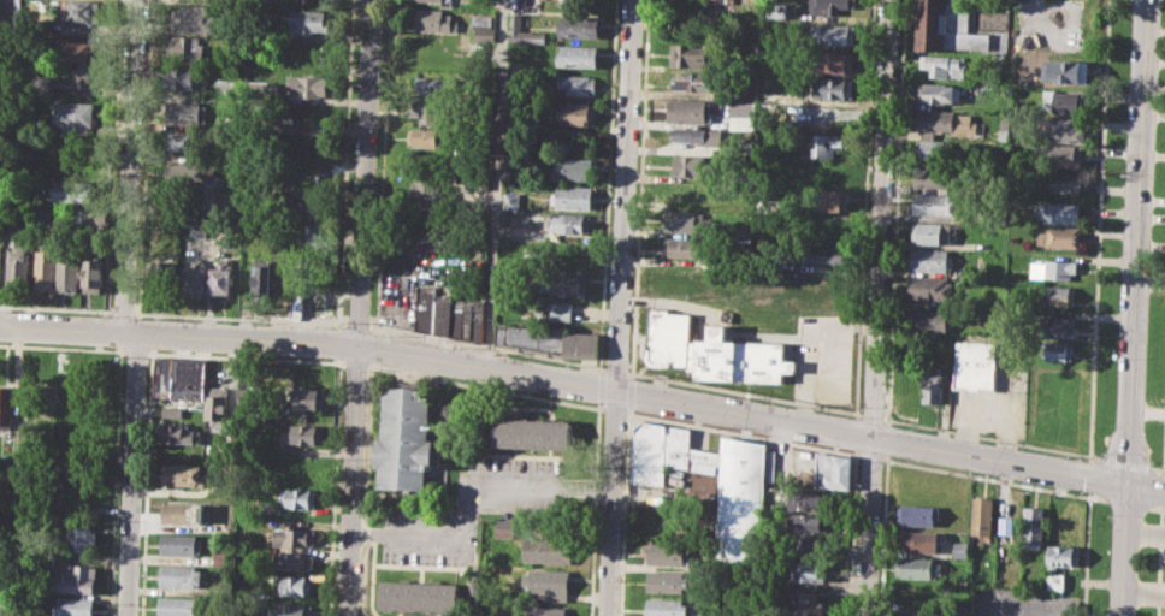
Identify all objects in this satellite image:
building: (306, 0)
building: (437, 0)
building: (668, 0)
building: (714, 1)
building: (747, 1)
building: (445, 2)
building: (829, 6)
building: (84, 10)
building: (776, 10)
building: (10, 13)
building: (194, 18)
building: (434, 19)
building: (481, 19)
building: (308, 22)
building: (578, 24)
building: (946, 28)
building: (522, 31)
building: (485, 34)
building: (833, 34)
building: (187, 47)
building: (311, 49)
building: (78, 51)
building: (576, 55)
building: (693, 55)
building: (834, 60)
building: (945, 65)
building: (1064, 71)
building: (78, 75)
building: (184, 76)
building: (692, 81)
street lamp: (1126, 82)
building: (434, 84)
building: (575, 84)
building: (308, 85)
building: (264, 87)
building: (834, 88)
building: (940, 93)
building: (1064, 100)
building: (185, 111)
building: (688, 111)
building: (576, 112)
building: (431, 113)
building: (743, 113)
building: (73, 114)
building: (282, 123)
building: (945, 123)
building: (1006, 128)
building: (1065, 129)
building: (700, 136)
building: (427, 137)
building: (184, 143)
building: (827, 143)
building: (303, 147)
building: (934, 149)
building: (1059, 155)
building: (690, 165)
road: (128, 166)
building: (570, 168)
building: (824, 171)
street lamp: (1123, 173)
building: (190, 174)
building: (933, 174)
building: (1064, 182)
road: (495, 183)
road: (607, 183)
road: (639, 186)
building: (71, 191)
building: (427, 191)
building: (685, 194)
building: (573, 196)
building: (827, 199)
building: (513, 201)
building: (743, 202)
building: (935, 203)
building: (313, 208)
building: (1059, 211)
building: (42, 217)
building: (682, 220)
building: (91, 221)
building: (573, 224)
building: (199, 229)
road: (1099, 230)
building: (932, 231)
building: (313, 232)
building: (1059, 237)
building: (681, 245)
building: (827, 254)
building: (929, 259)
building: (0, 260)
building: (19, 269)
building: (45, 269)
building: (1053, 269)
street lamp: (1118, 269)
building: (67, 271)
building: (93, 272)
building: (261, 276)
building: (168, 277)
building: (221, 277)
building: (195, 278)
building: (283, 278)
building: (568, 282)
building: (930, 288)
building: (1059, 296)
road: (55, 307)
road: (359, 307)
building: (425, 307)
building: (296, 308)
road: (620, 308)
road: (877, 308)
road: (1135, 308)
road: (122, 310)
building: (561, 310)
building: (443, 314)
road: (239, 316)
building: (467, 319)
building: (929, 320)
road: (357, 321)
building: (1057, 326)
road: (69, 328)
building: (667, 337)
road: (824, 338)
building: (548, 340)
road: (485, 345)
road: (63, 348)
road: (136, 351)
building: (1059, 351)
road: (246, 356)
parking lot: (823, 357)
building: (740, 359)
street lamp: (1114, 359)
road: (355, 361)
building: (974, 365)
road: (615, 373)
building: (181, 378)
building: (932, 384)
road: (485, 386)
road: (602, 387)
road: (743, 392)
road: (628, 393)
road: (654, 395)
building: (309, 398)
building: (217, 403)
building: (6, 407)
road: (614, 407)
building: (172, 410)
street lamp: (826, 413)
road: (870, 415)
street lamp: (891, 423)
building: (181, 433)
building: (302, 433)
building: (533, 433)
road: (743, 434)
road: (990, 437)
building: (406, 440)
street lamp: (983, 440)
road: (1163, 443)
street lamp: (1102, 452)
road: (870, 454)
street lamp: (1068, 455)
road: (1124, 463)
road: (1157, 469)
building: (832, 470)
road: (134, 473)
building: (183, 474)
road: (1089, 475)
road: (994, 479)
road: (1161, 488)
road: (467, 492)
building: (298, 498)
building: (806, 499)
road: (1128, 503)
parking lot: (473, 508)
road: (1155, 509)
building: (184, 511)
road: (623, 514)
building: (918, 514)
street lamp: (1108, 514)
building: (982, 515)
building: (806, 522)
building: (738, 525)
building: (1005, 525)
building: (1034, 526)
building: (504, 527)
road: (1146, 531)
building: (81, 537)
building: (291, 537)
road: (883, 538)
building: (921, 540)
building: (181, 543)
building: (805, 545)
building: (958, 549)
building: (548, 550)
building: (668, 553)
road: (1086, 553)
building: (1063, 556)
building: (294, 559)
road: (1159, 559)
building: (913, 567)
building: (804, 569)
building: (179, 575)
building: (76, 579)
building: (1055, 580)
building: (666, 582)
building: (546, 584)
building: (295, 585)
building: (917, 592)
road: (1145, 594)
building: (420, 596)
parking lot: (1022, 602)
building: (802, 603)
building: (72, 605)
building: (177, 606)
building: (5, 608)
building: (666, 608)
street lamp: (1105, 608)
building: (290, 609)
building: (493, 609)
building: (545, 611)
building: (910, 615)

